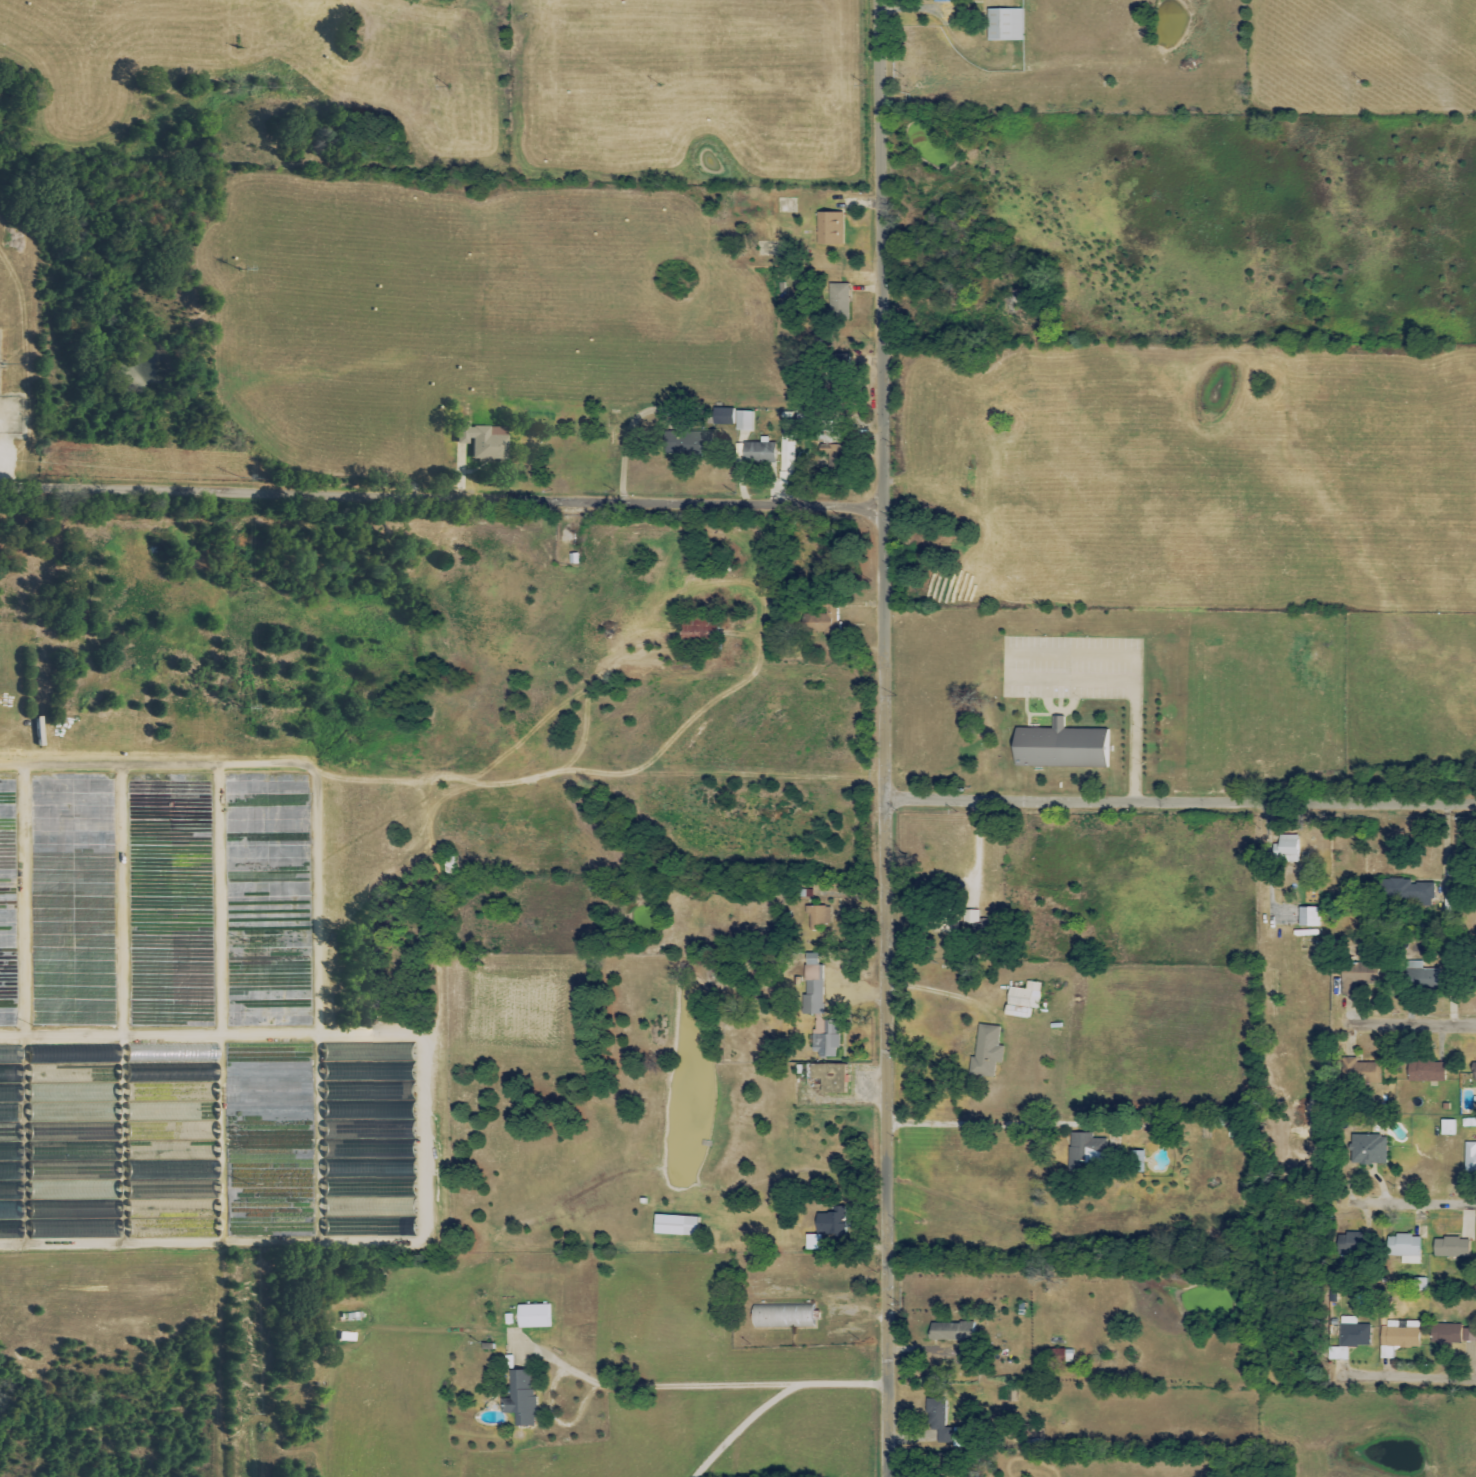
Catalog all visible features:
building: (944, 1)
building: (1004, 24)
power tower: (1361, 83)
power tower: (657, 84)
power tower: (860, 84)
power tower: (1109, 84)
power tower: (442, 86)
power tower: (232, 89)
building: (829, 228)
road: (878, 270)
power tower: (234, 271)
building: (837, 301)
building: (722, 416)
building: (743, 421)
building: (832, 437)
building: (482, 440)
building: (680, 443)
building: (788, 446)
building: (759, 452)
power tower: (238, 481)
road: (440, 495)
building: (821, 620)
building: (699, 633)
road: (1134, 679)
building: (1060, 747)
road: (1178, 801)
building: (1286, 849)
building: (818, 918)
building: (1306, 922)
building: (947, 926)
building: (1422, 976)
building: (1351, 978)
building: (813, 987)
building: (1024, 995)
road: (881, 1009)
building: (1015, 1012)
road: (1417, 1025)
building: (827, 1038)
building: (356, 1049)
building: (986, 1052)
building: (12, 1053)
building: (355, 1070)
building: (1360, 1072)
building: (1425, 1072)
building: (1474, 1074)
building: (830, 1078)
building: (369, 1100)
road: (979, 1121)
building: (410, 1127)
building: (1447, 1128)
building: (356, 1146)
building: (413, 1148)
building: (1369, 1150)
building: (1085, 1151)
building: (1470, 1157)
building: (353, 1185)
road: (1420, 1202)
building: (674, 1226)
building: (831, 1226)
building: (348, 1227)
building: (1350, 1244)
building: (1451, 1248)
building: (1403, 1249)
building: (533, 1316)
building: (951, 1331)
building: (1453, 1335)
building: (1398, 1336)
building: (352, 1337)
building: (1058, 1356)
road: (1411, 1372)
road: (649, 1385)
building: (520, 1397)
road: (775, 1398)
building: (938, 1421)
building: (945, 1464)

